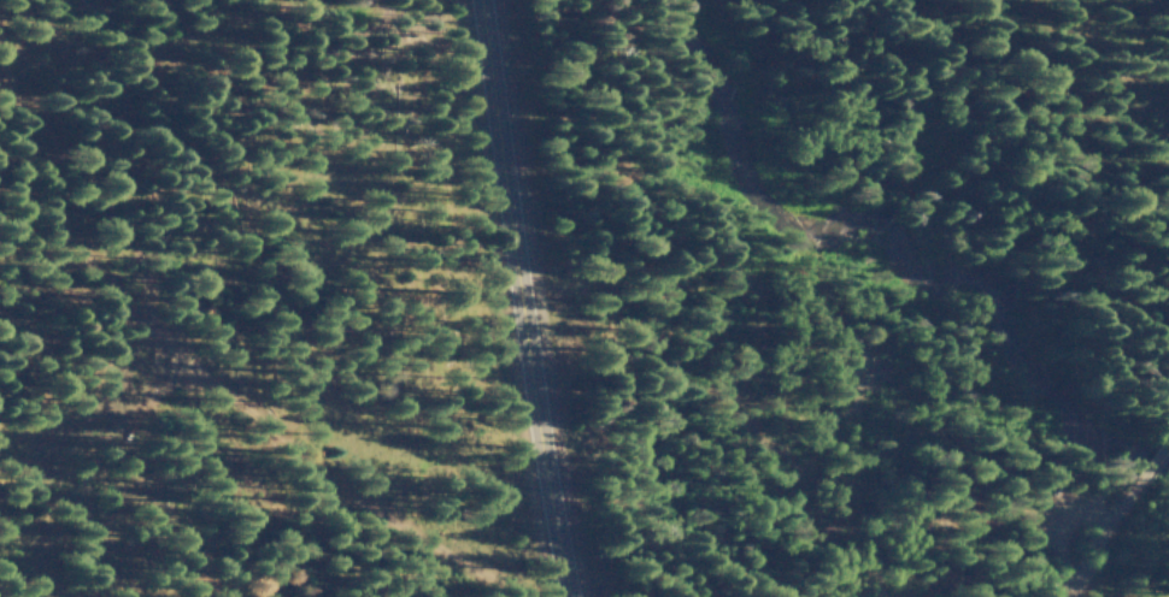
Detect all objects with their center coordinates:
road: (517, 298)
road: (1155, 463)
road: (1117, 539)

